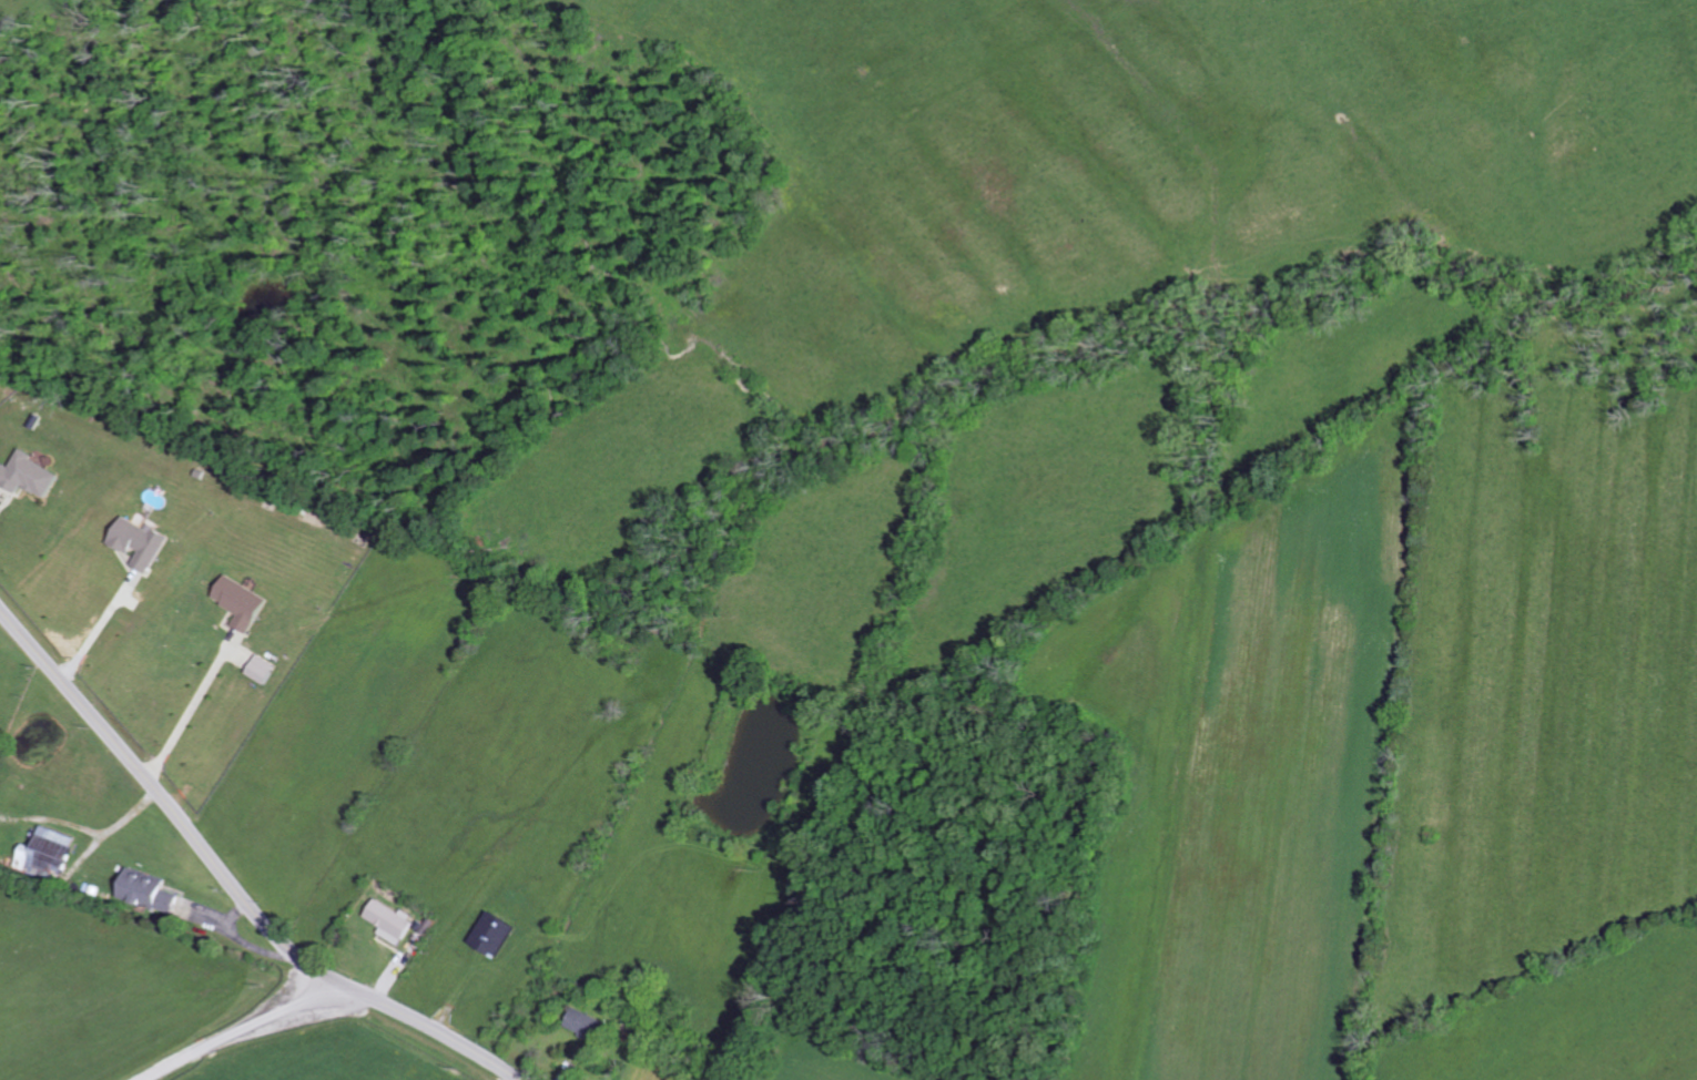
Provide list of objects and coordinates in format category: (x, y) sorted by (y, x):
building: (31, 475)
building: (143, 543)
building: (245, 602)
building: (265, 669)
building: (52, 852)
road: (227, 882)
building: (152, 890)
building: (394, 920)
building: (498, 934)
building: (587, 1023)
road: (243, 1028)

